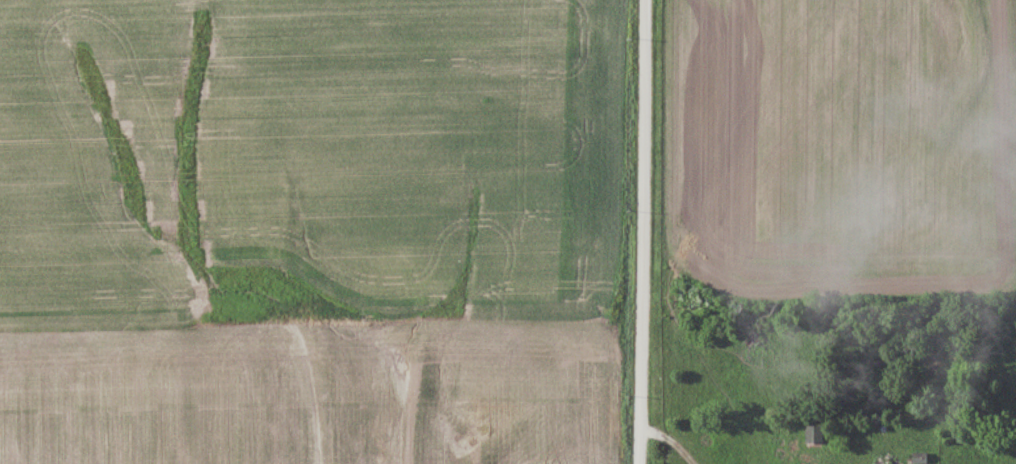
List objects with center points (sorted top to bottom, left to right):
road: (641, 231)
building: (811, 434)
building: (895, 459)

